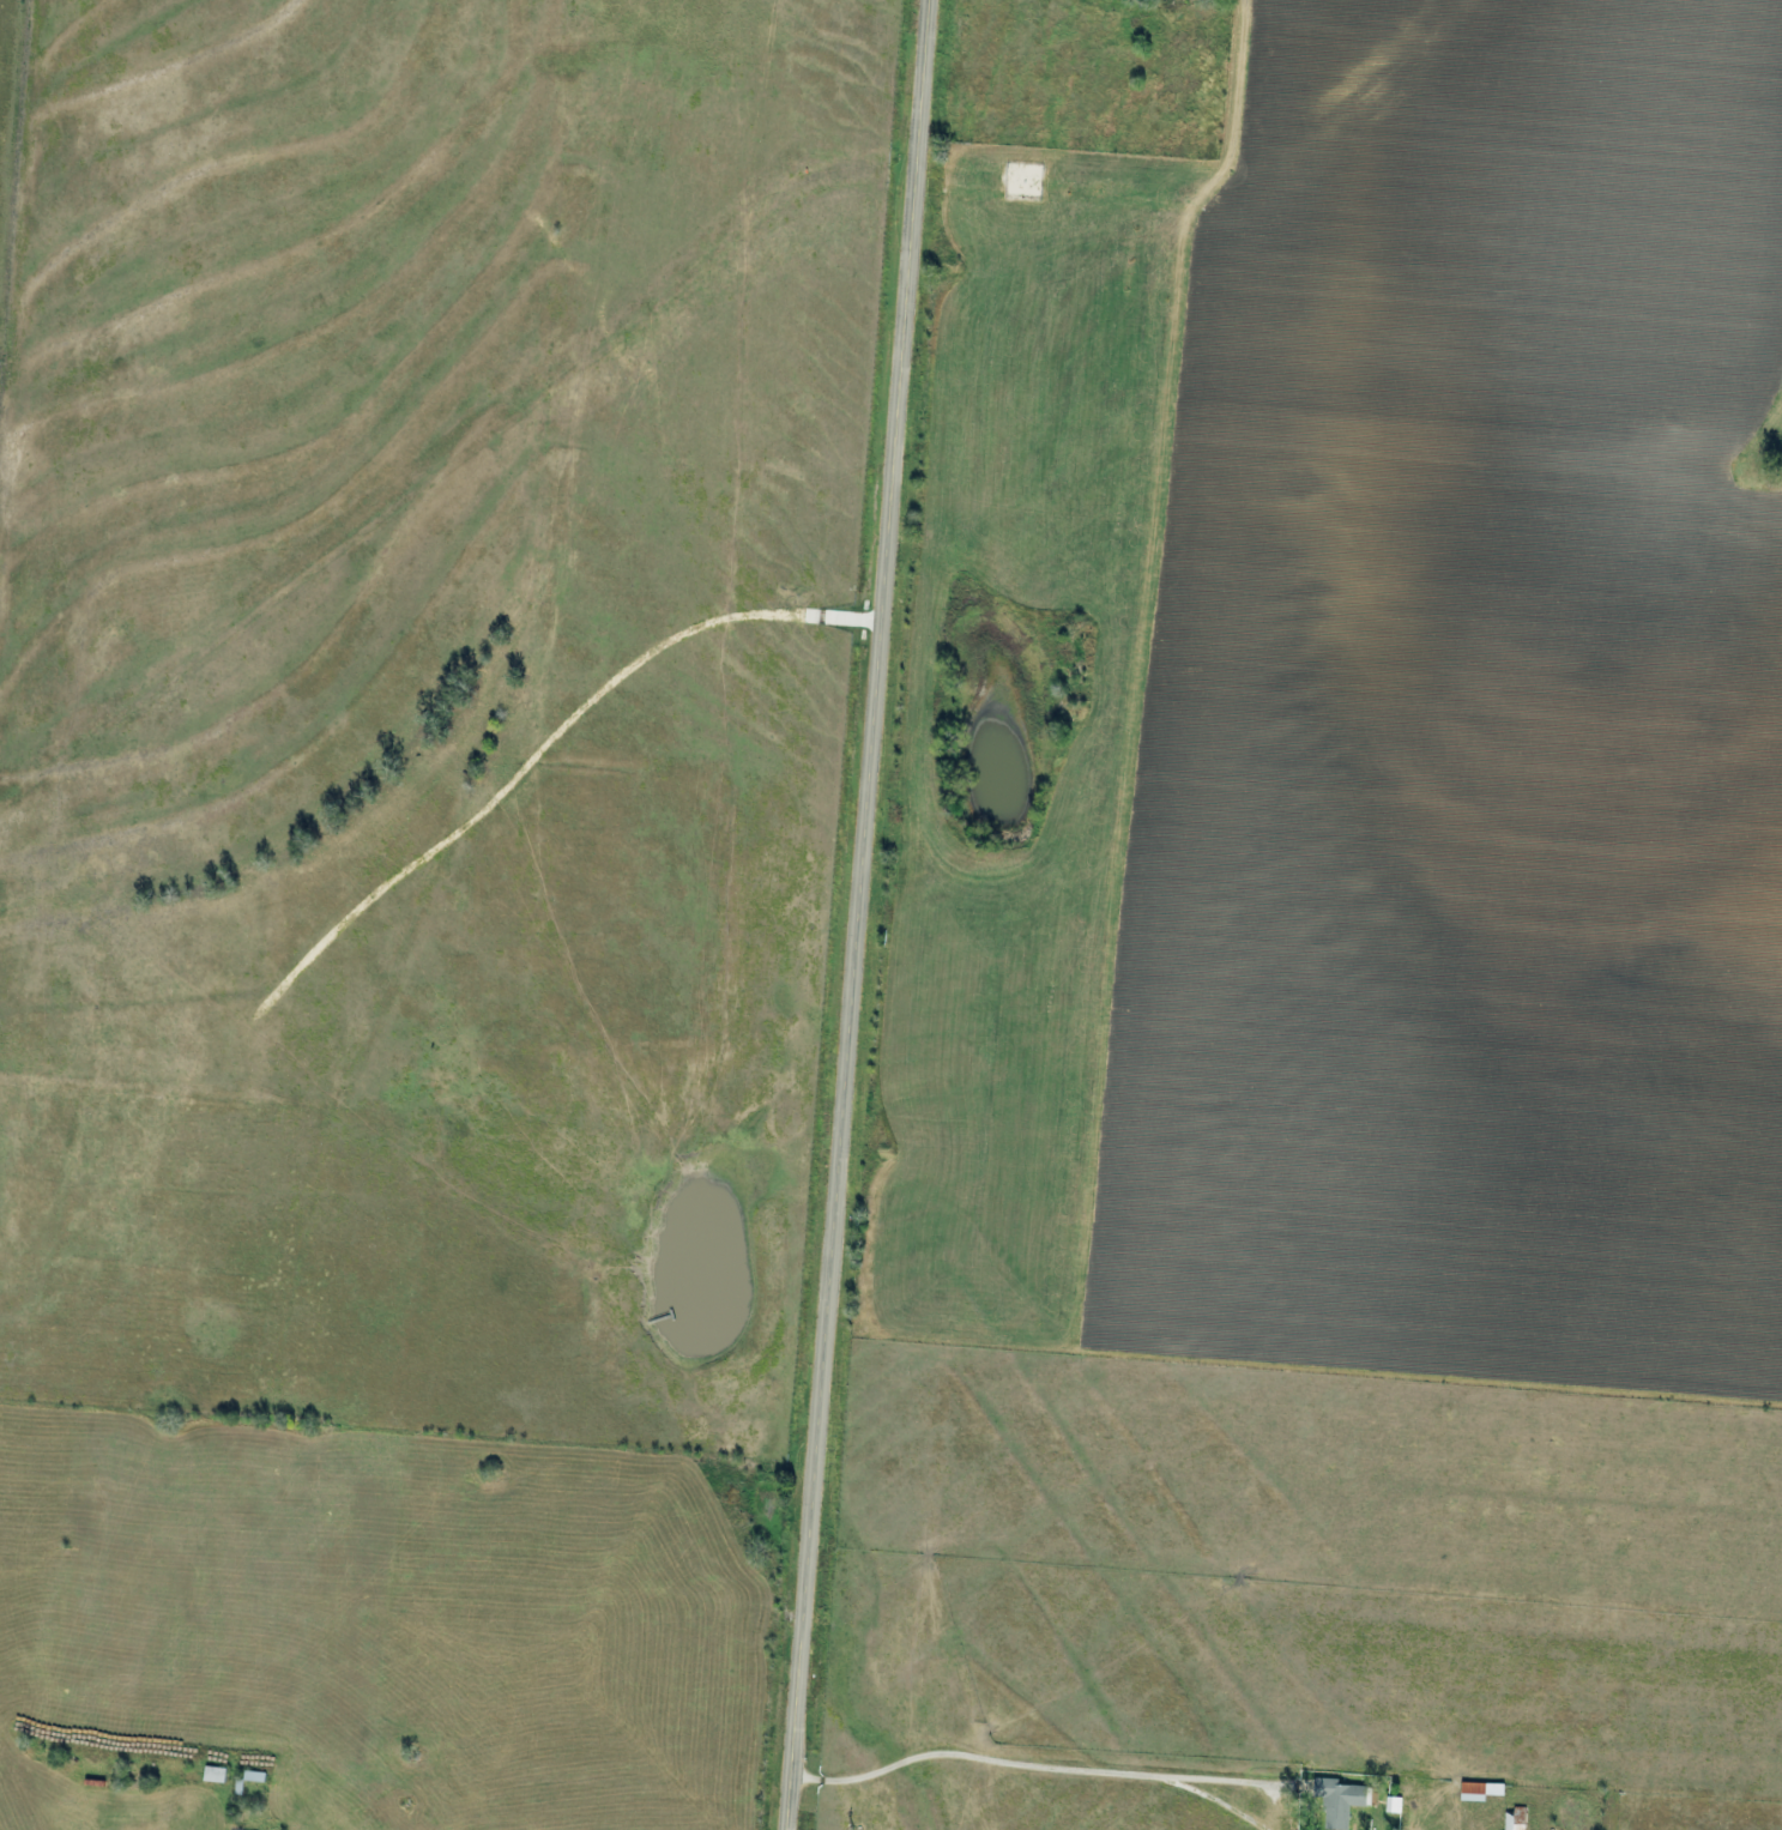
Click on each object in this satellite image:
road: (860, 914)
road: (1026, 1751)
building: (252, 1776)
building: (237, 1787)
building: (1478, 1790)
building: (1337, 1800)
building: (1393, 1804)
building: (1514, 1819)

